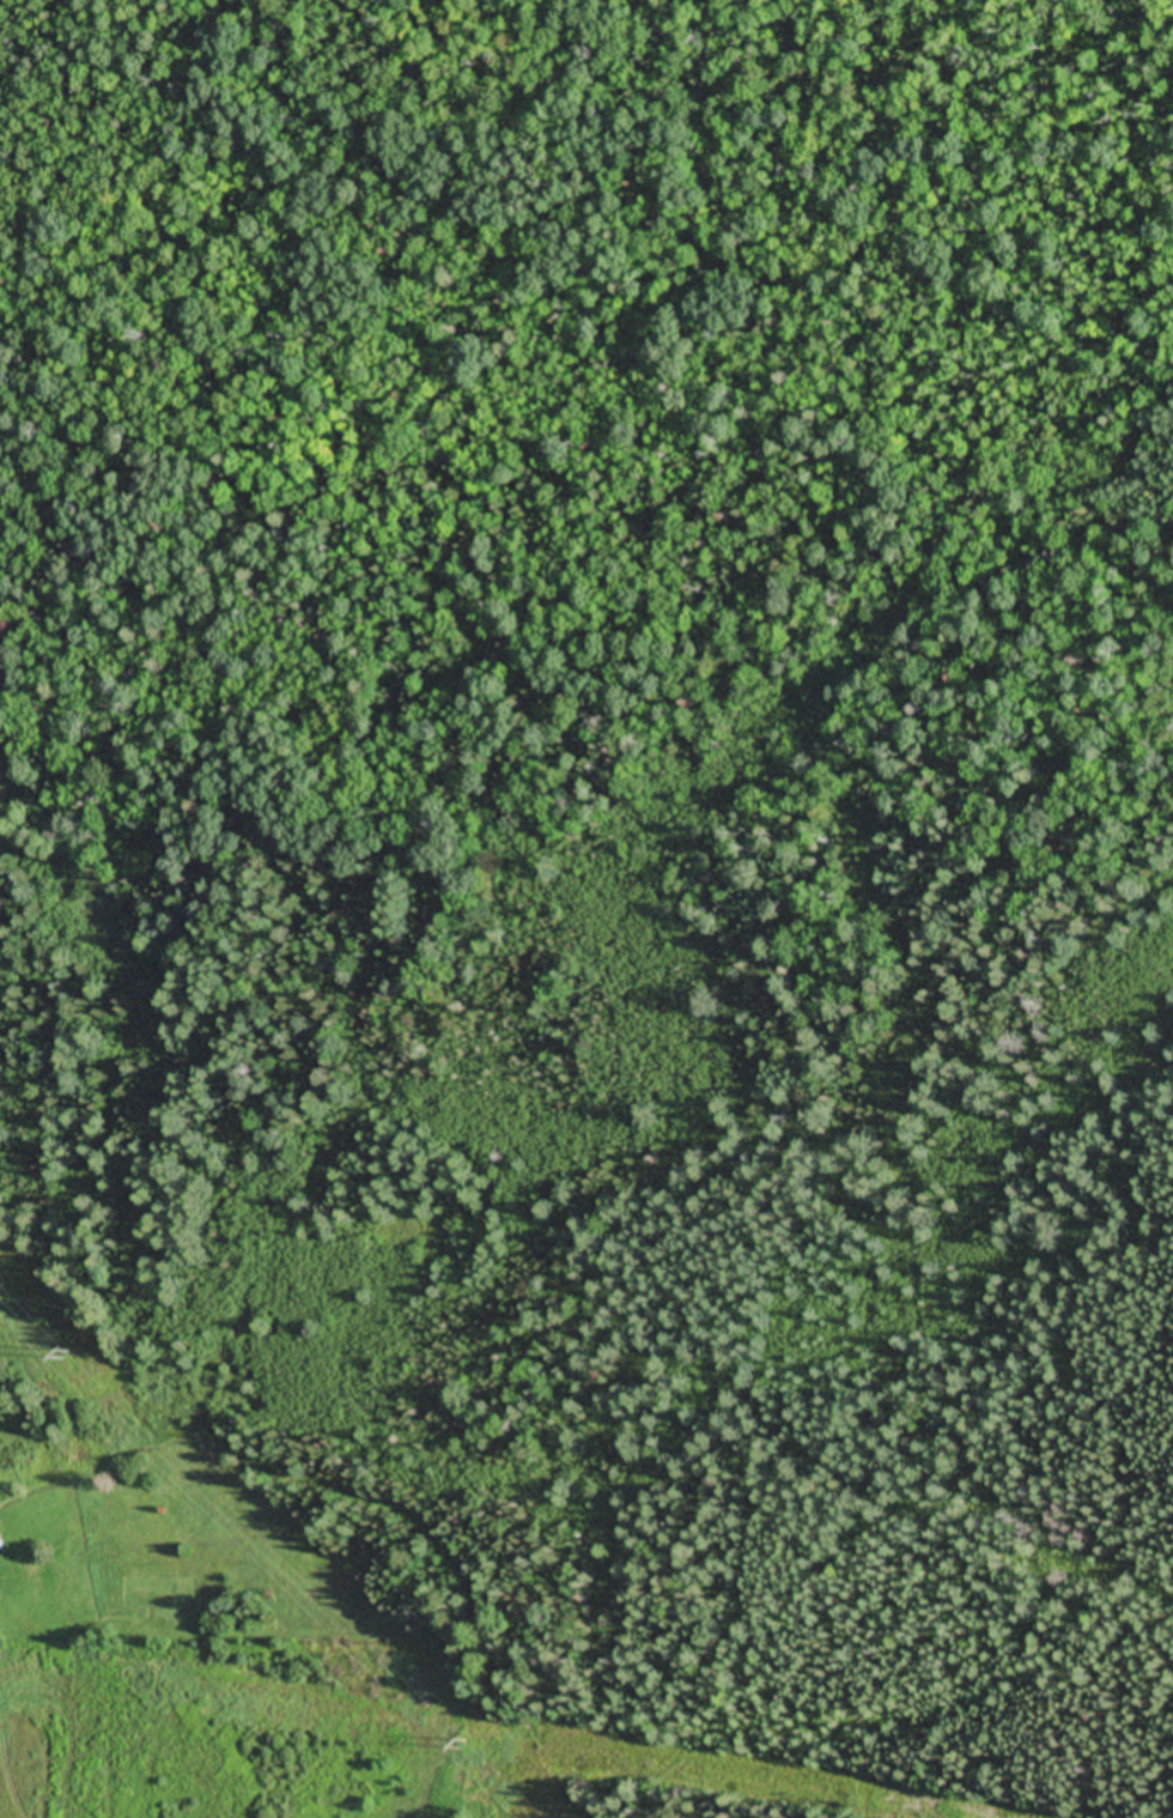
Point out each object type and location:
power tower: (69, 1358)
power tower: (464, 1750)

